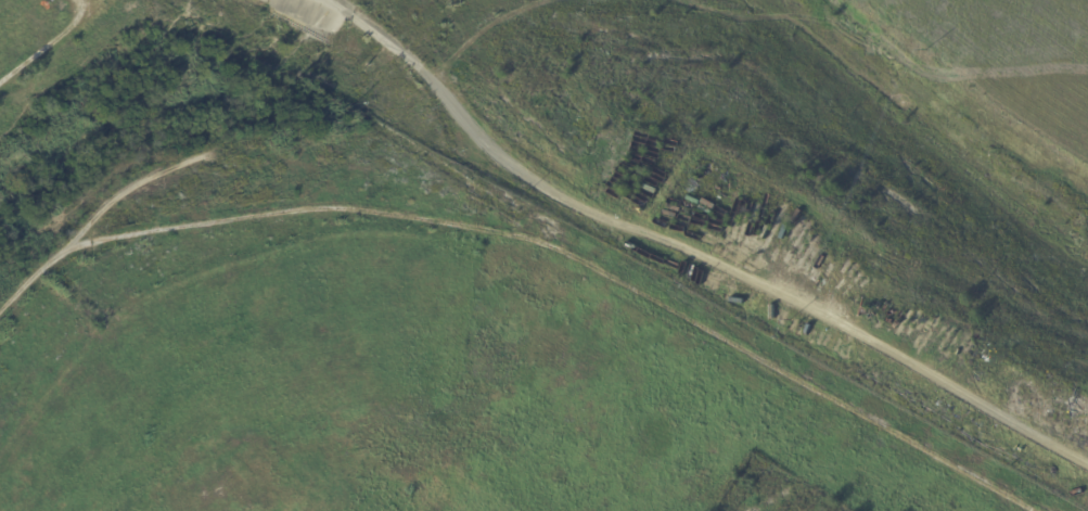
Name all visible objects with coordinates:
landfill: (819, 164)
road: (689, 251)
landfill: (369, 318)

